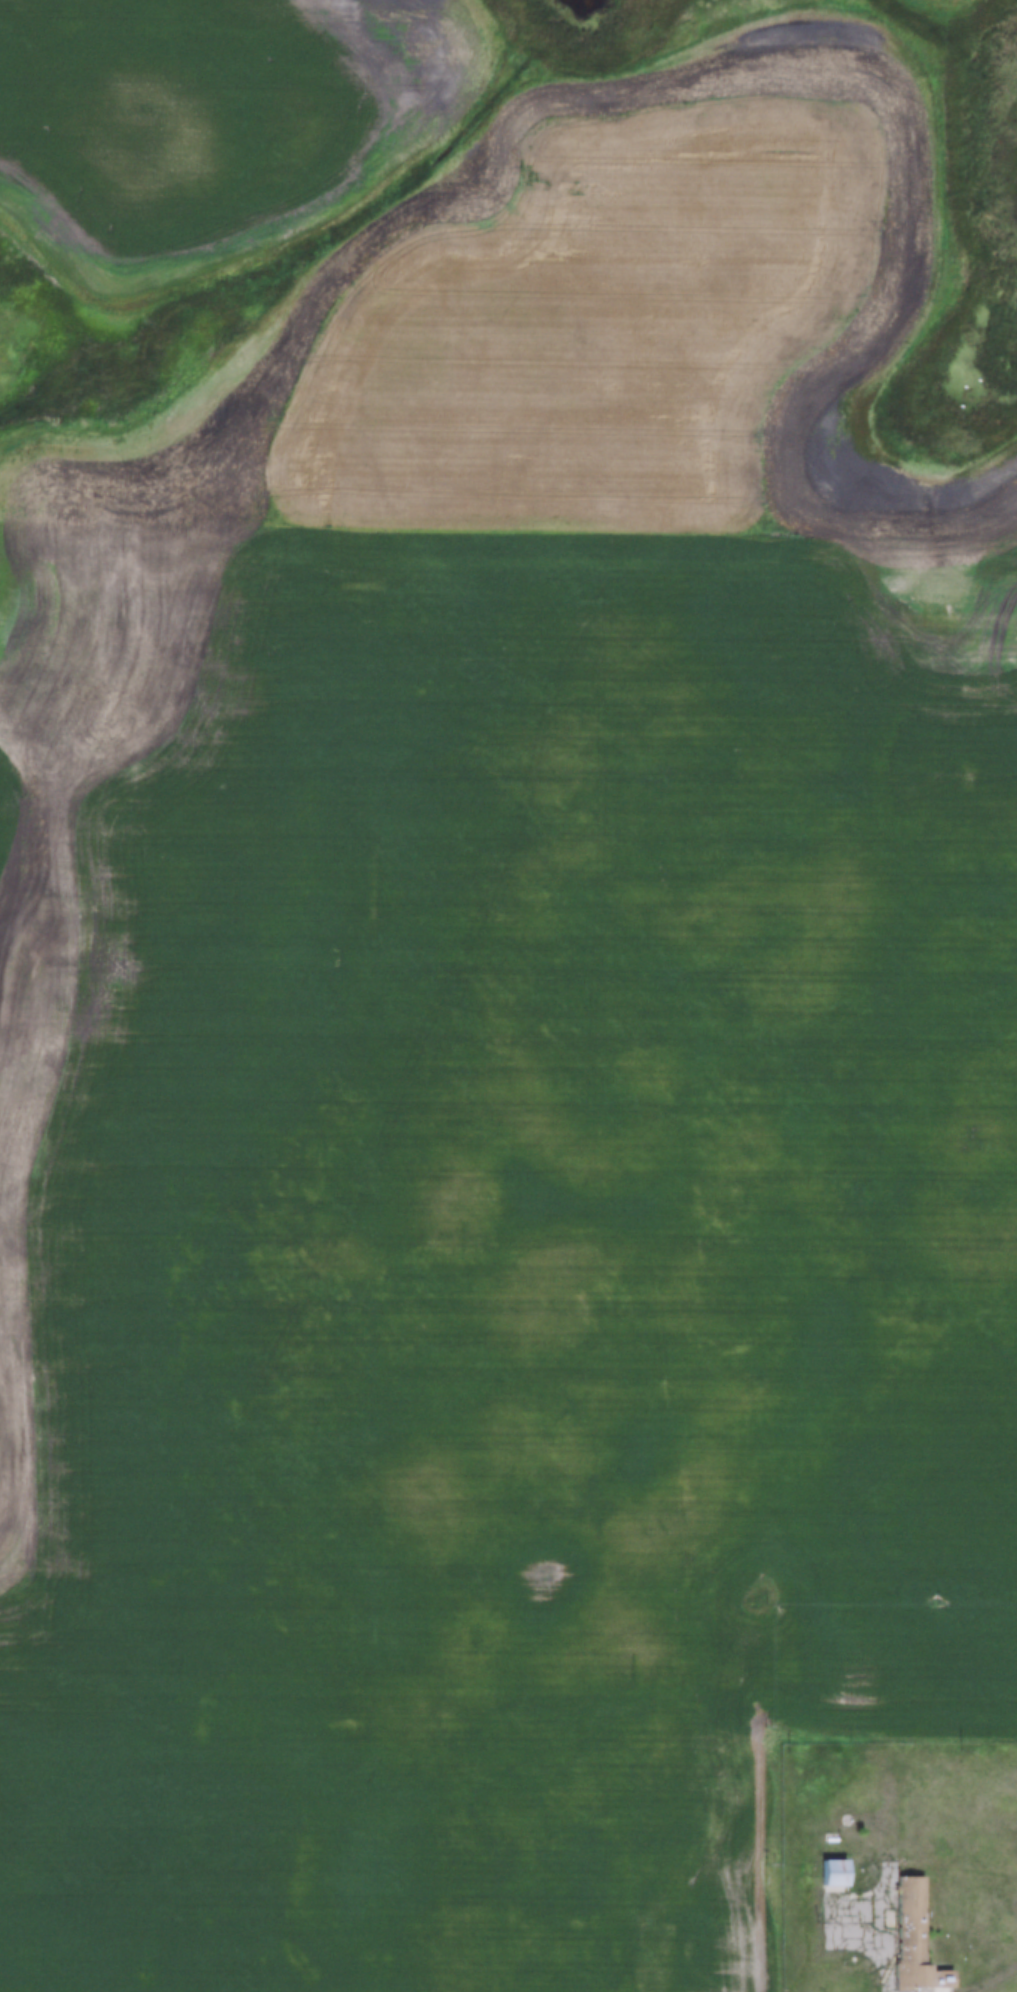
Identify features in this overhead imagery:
building: (835, 1875)
building: (910, 1931)
road: (888, 1938)

